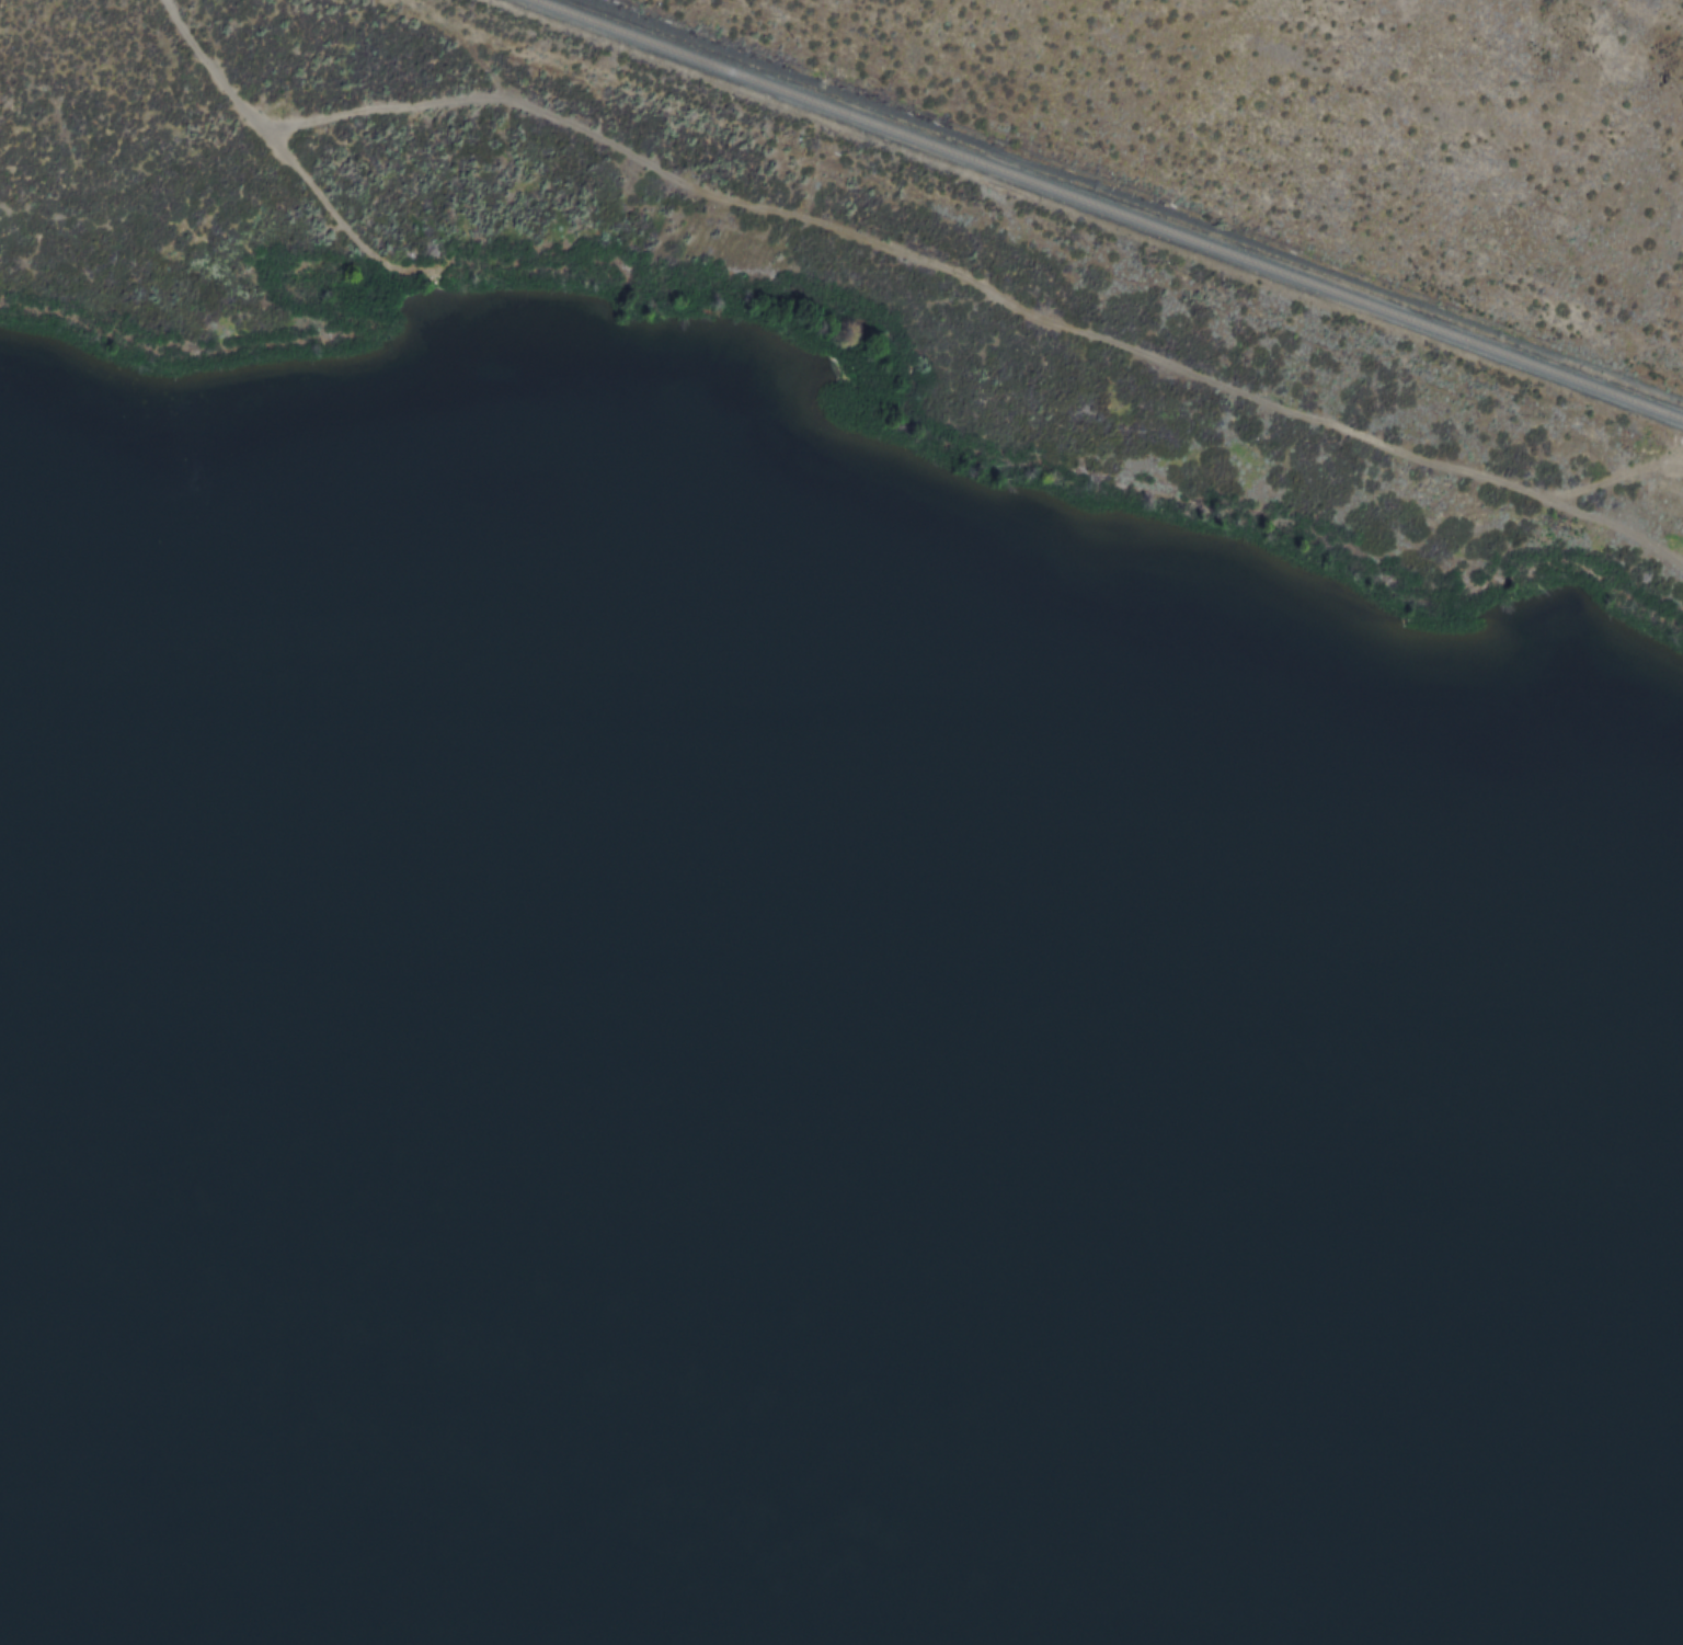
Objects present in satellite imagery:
railway: (1106, 209)
road: (905, 254)

